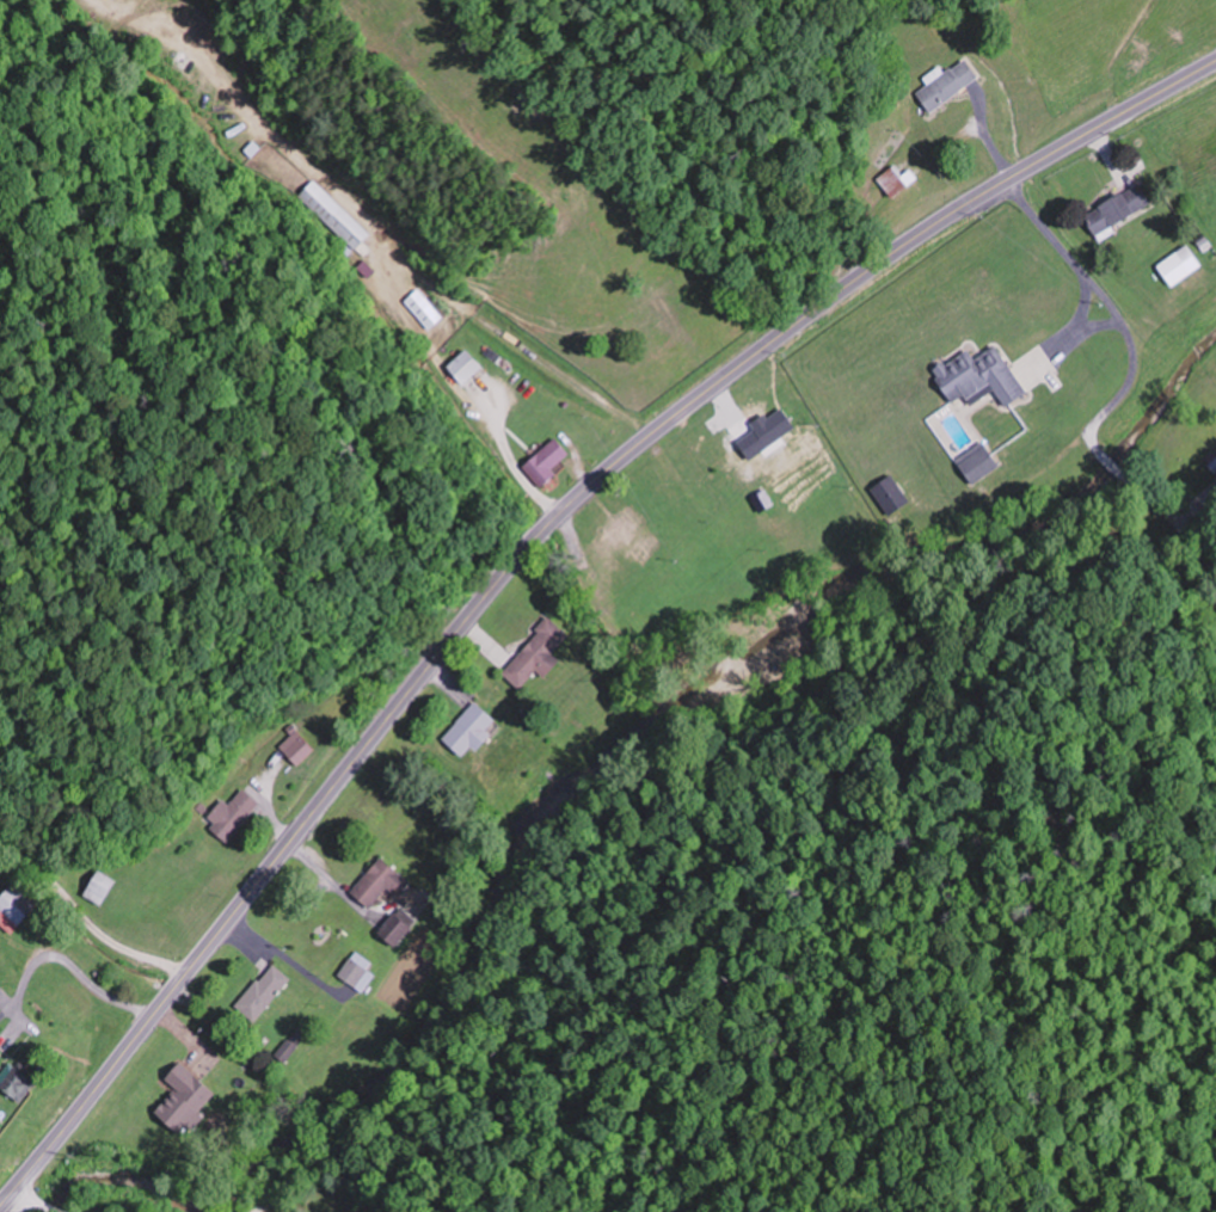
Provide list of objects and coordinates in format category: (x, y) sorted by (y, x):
building: (947, 84)
building: (903, 183)
building: (1119, 210)
building: (333, 217)
building: (1180, 266)
building: (423, 310)
building: (465, 367)
building: (981, 377)
building: (776, 426)
building: (979, 461)
building: (546, 462)
building: (1212, 465)
building: (891, 494)
building: (626, 527)
road: (529, 548)
building: (538, 656)
building: (472, 731)
building: (297, 749)
building: (232, 814)
building: (380, 882)
building: (102, 887)
road: (90, 915)
building: (399, 925)
building: (357, 971)
building: (264, 992)
building: (288, 1051)
building: (1, 1057)
building: (18, 1083)
road: (30, 1195)
road: (50, 1208)

